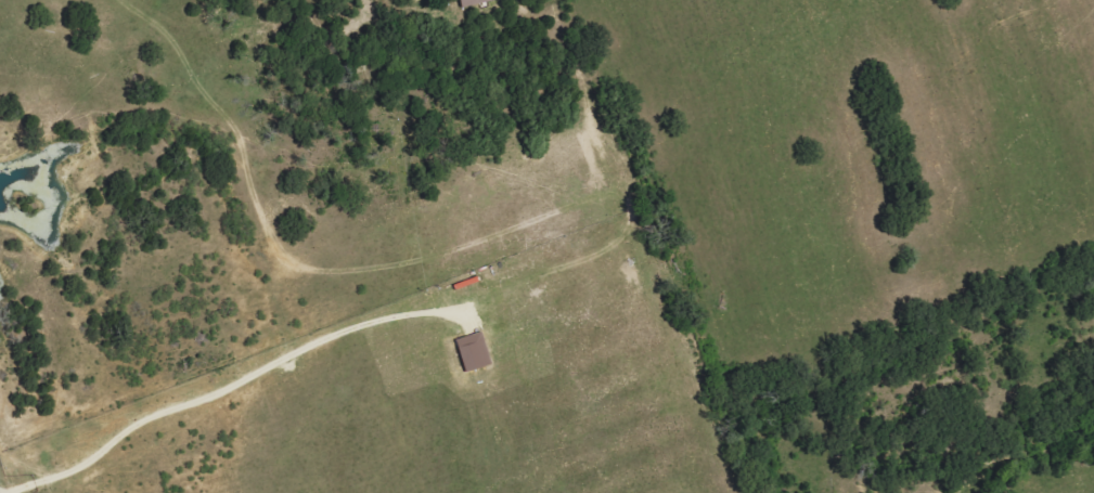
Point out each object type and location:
building: (475, 2)
building: (475, 351)

